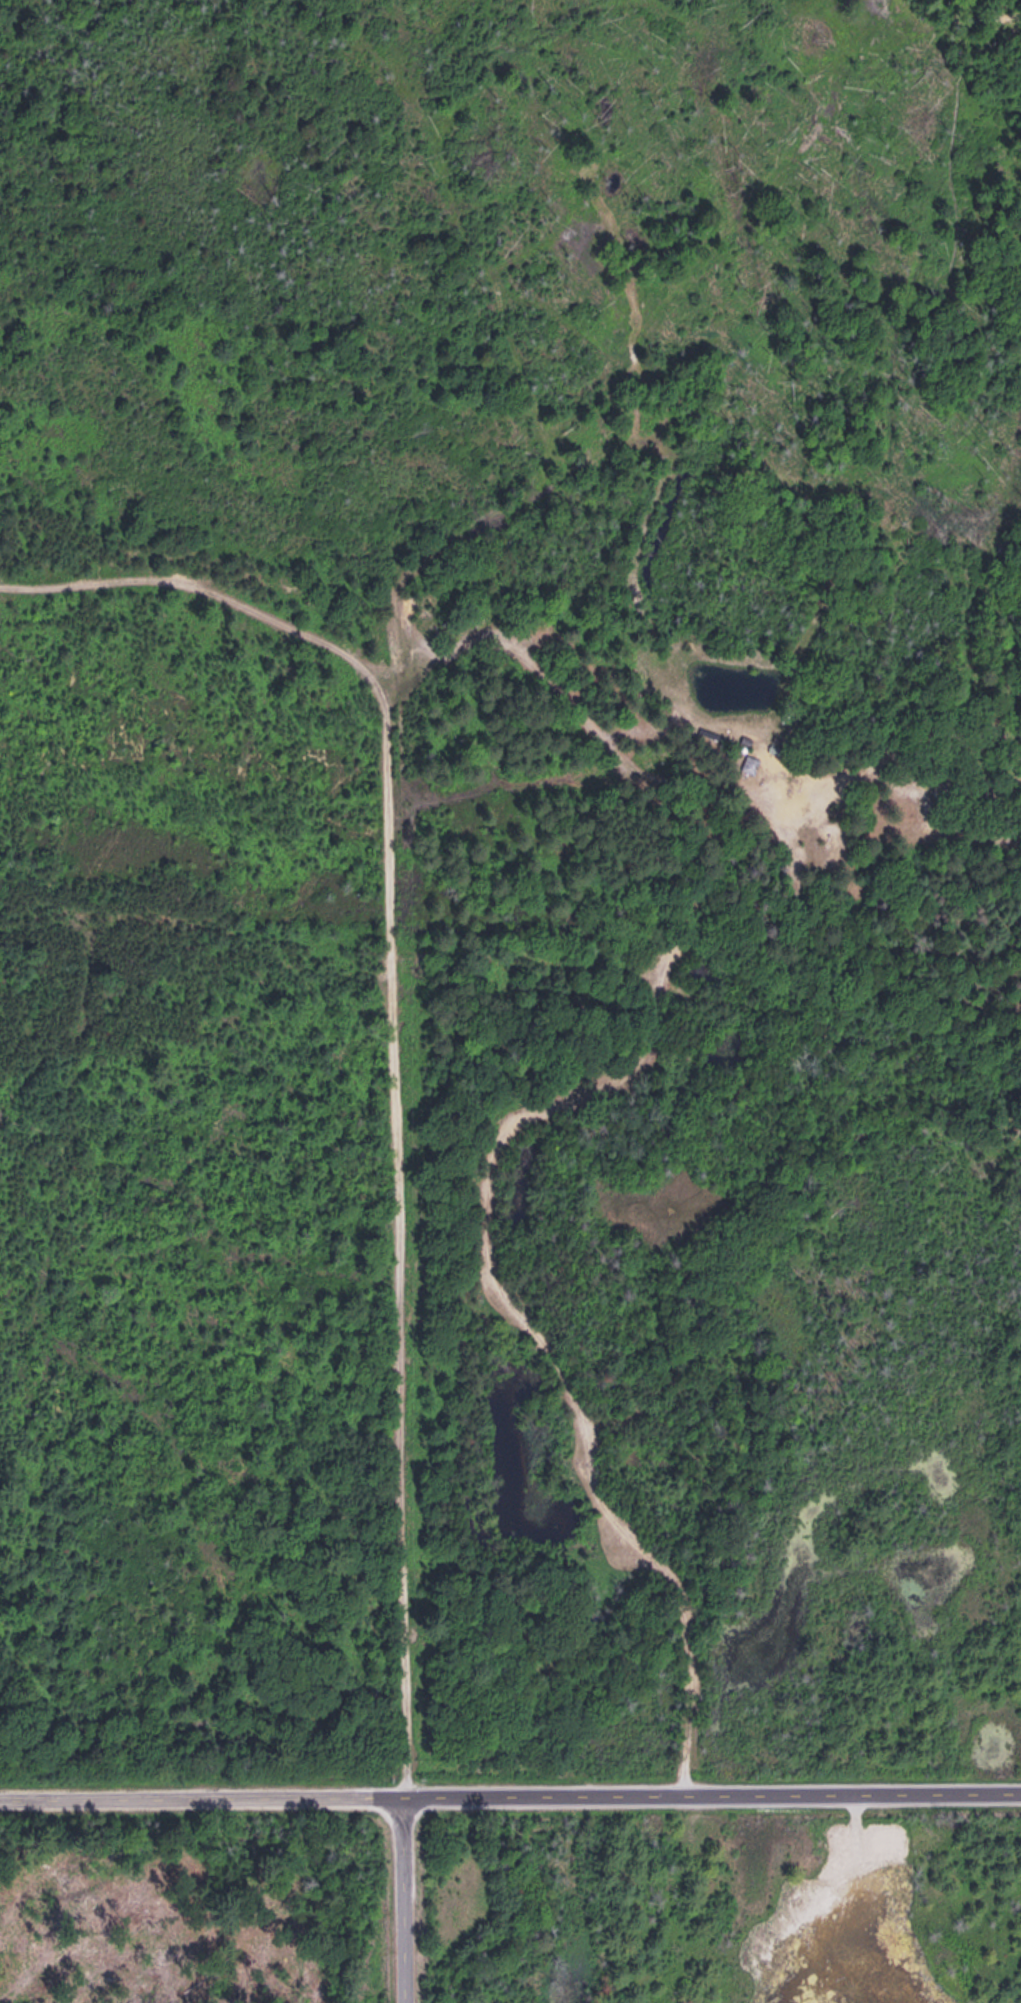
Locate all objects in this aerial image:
road: (695, 732)
building: (748, 763)
road: (510, 1777)
road: (389, 1890)

